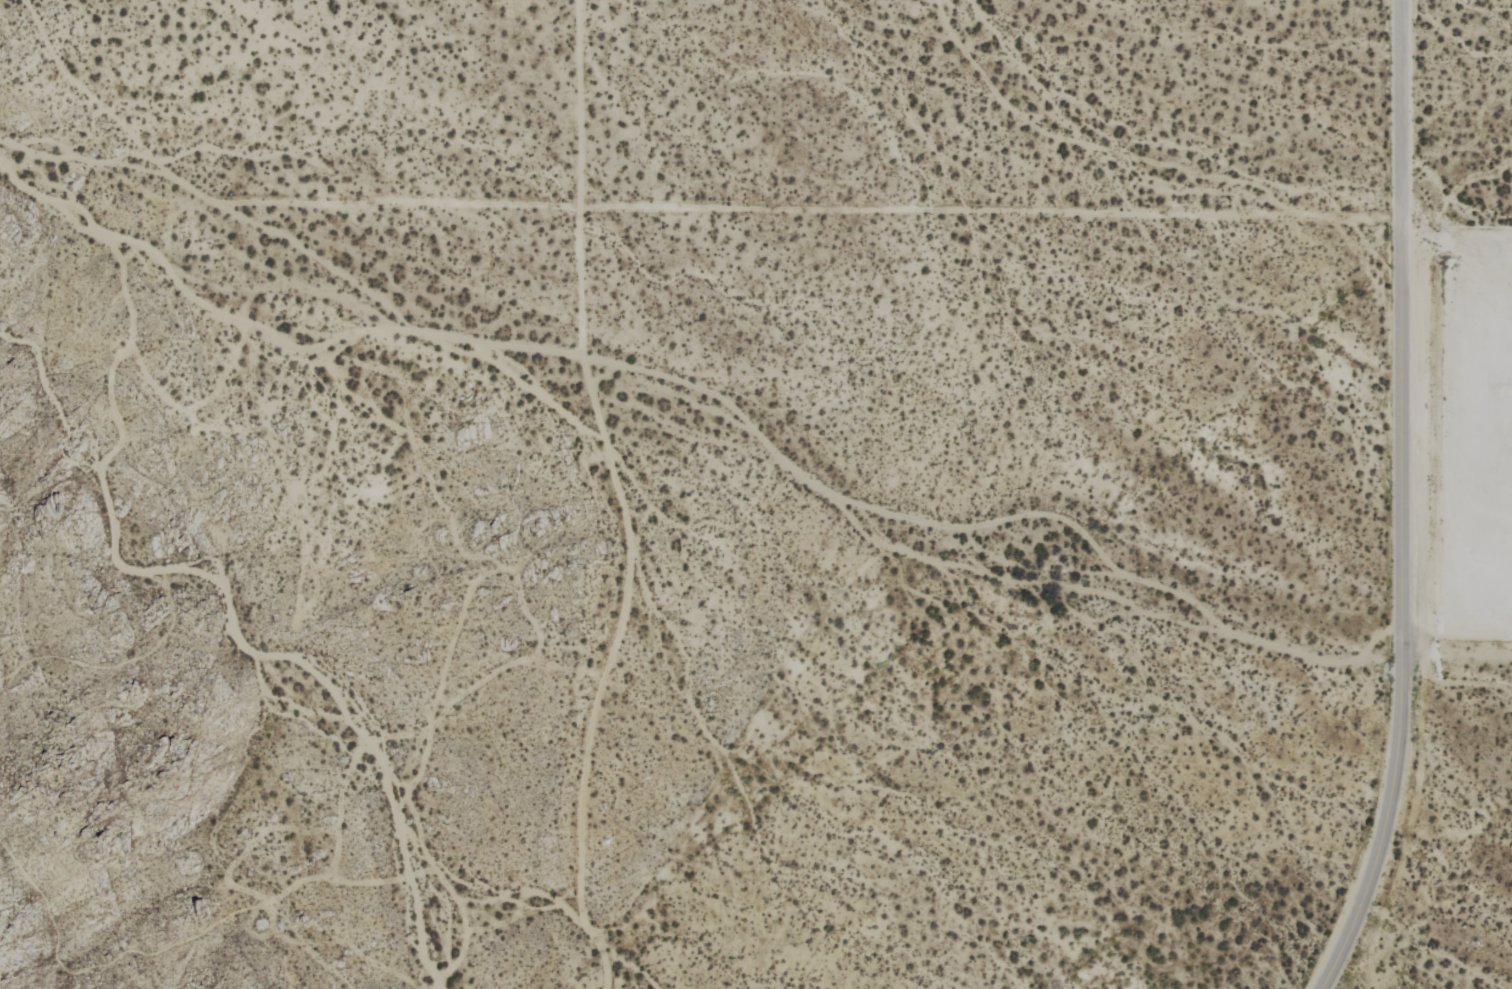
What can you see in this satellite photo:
road: (804, 208)
quarry: (1504, 487)
road: (617, 498)
road: (1398, 501)

